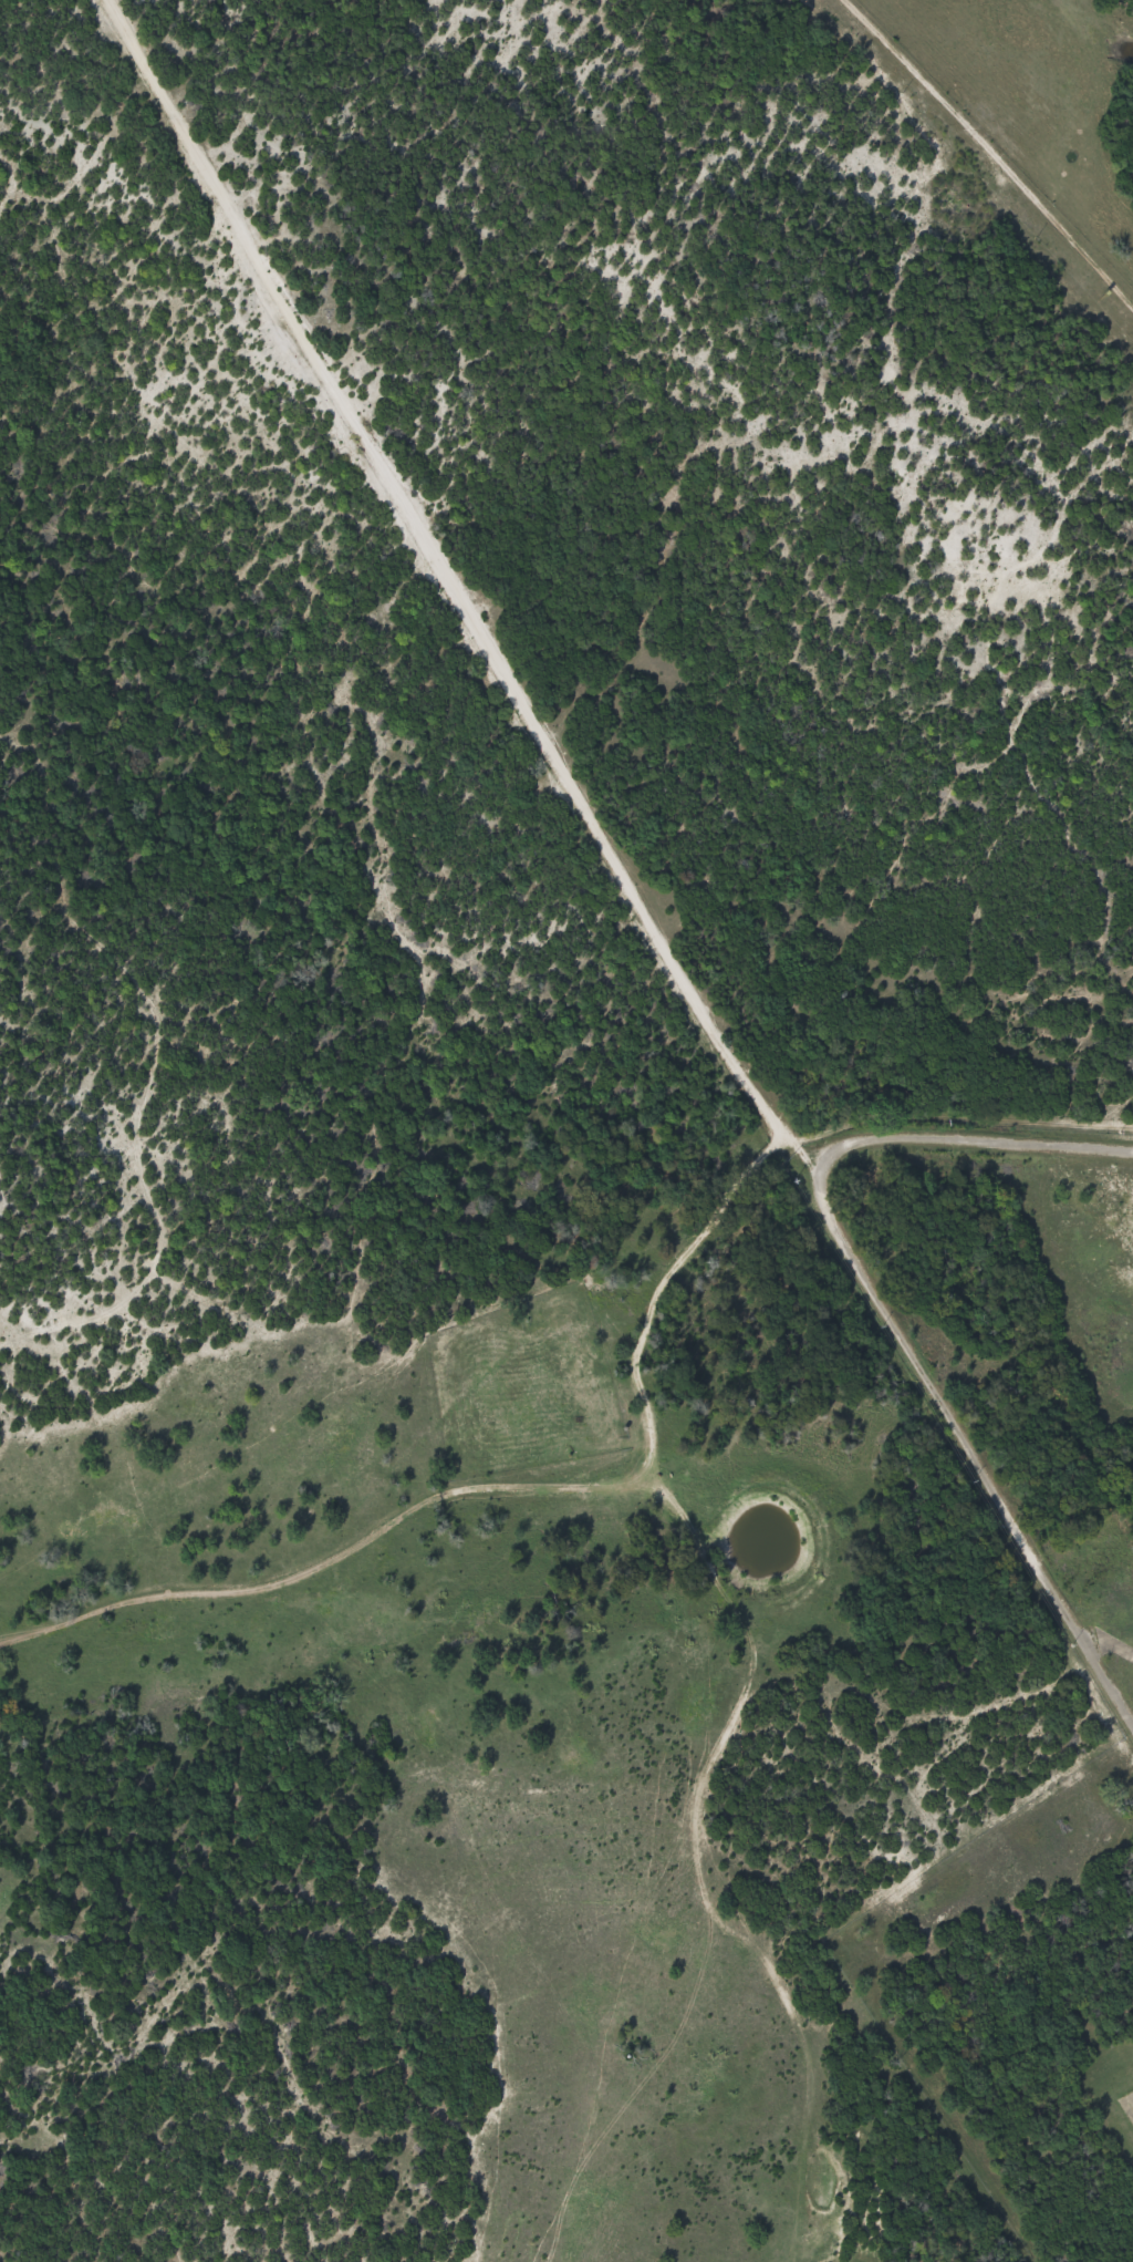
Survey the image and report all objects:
road: (964, 1123)
road: (962, 1442)

